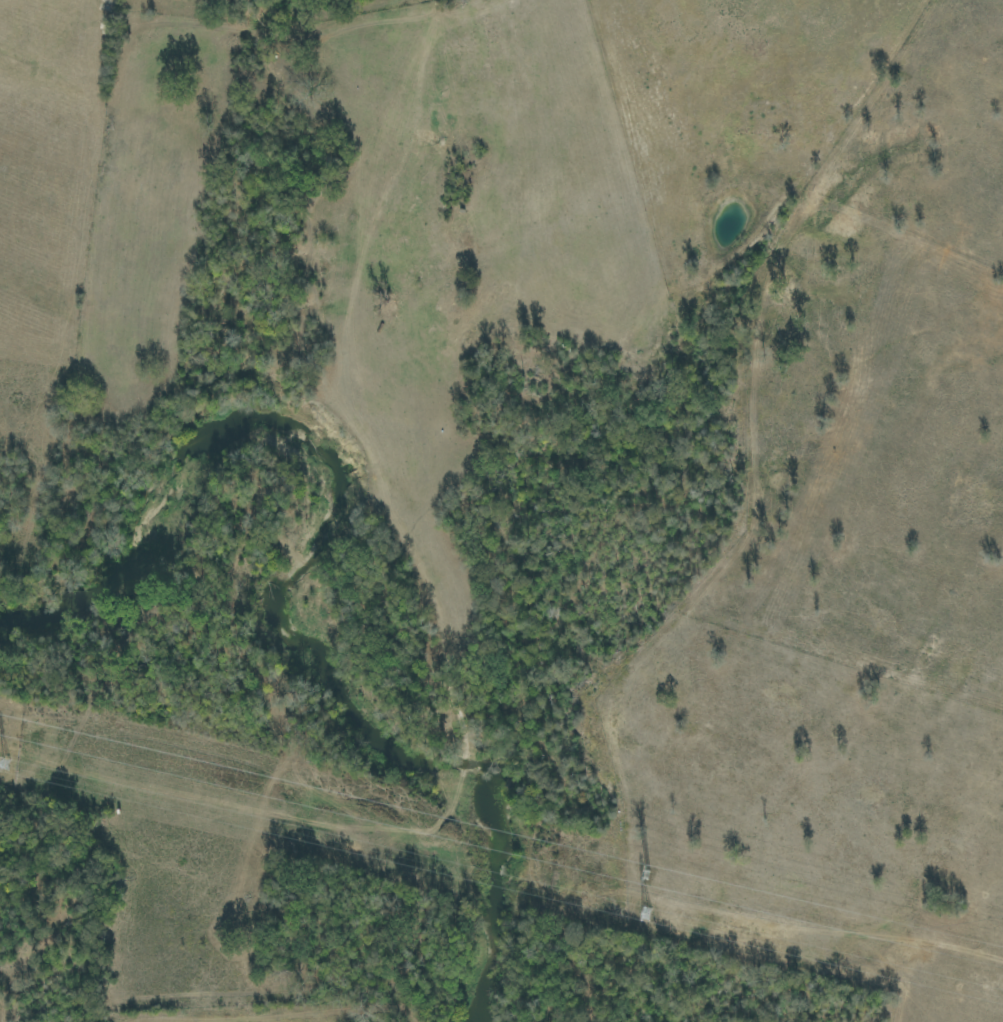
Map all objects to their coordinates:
power tower: (3, 766)
power tower: (647, 877)
power tower: (644, 915)

